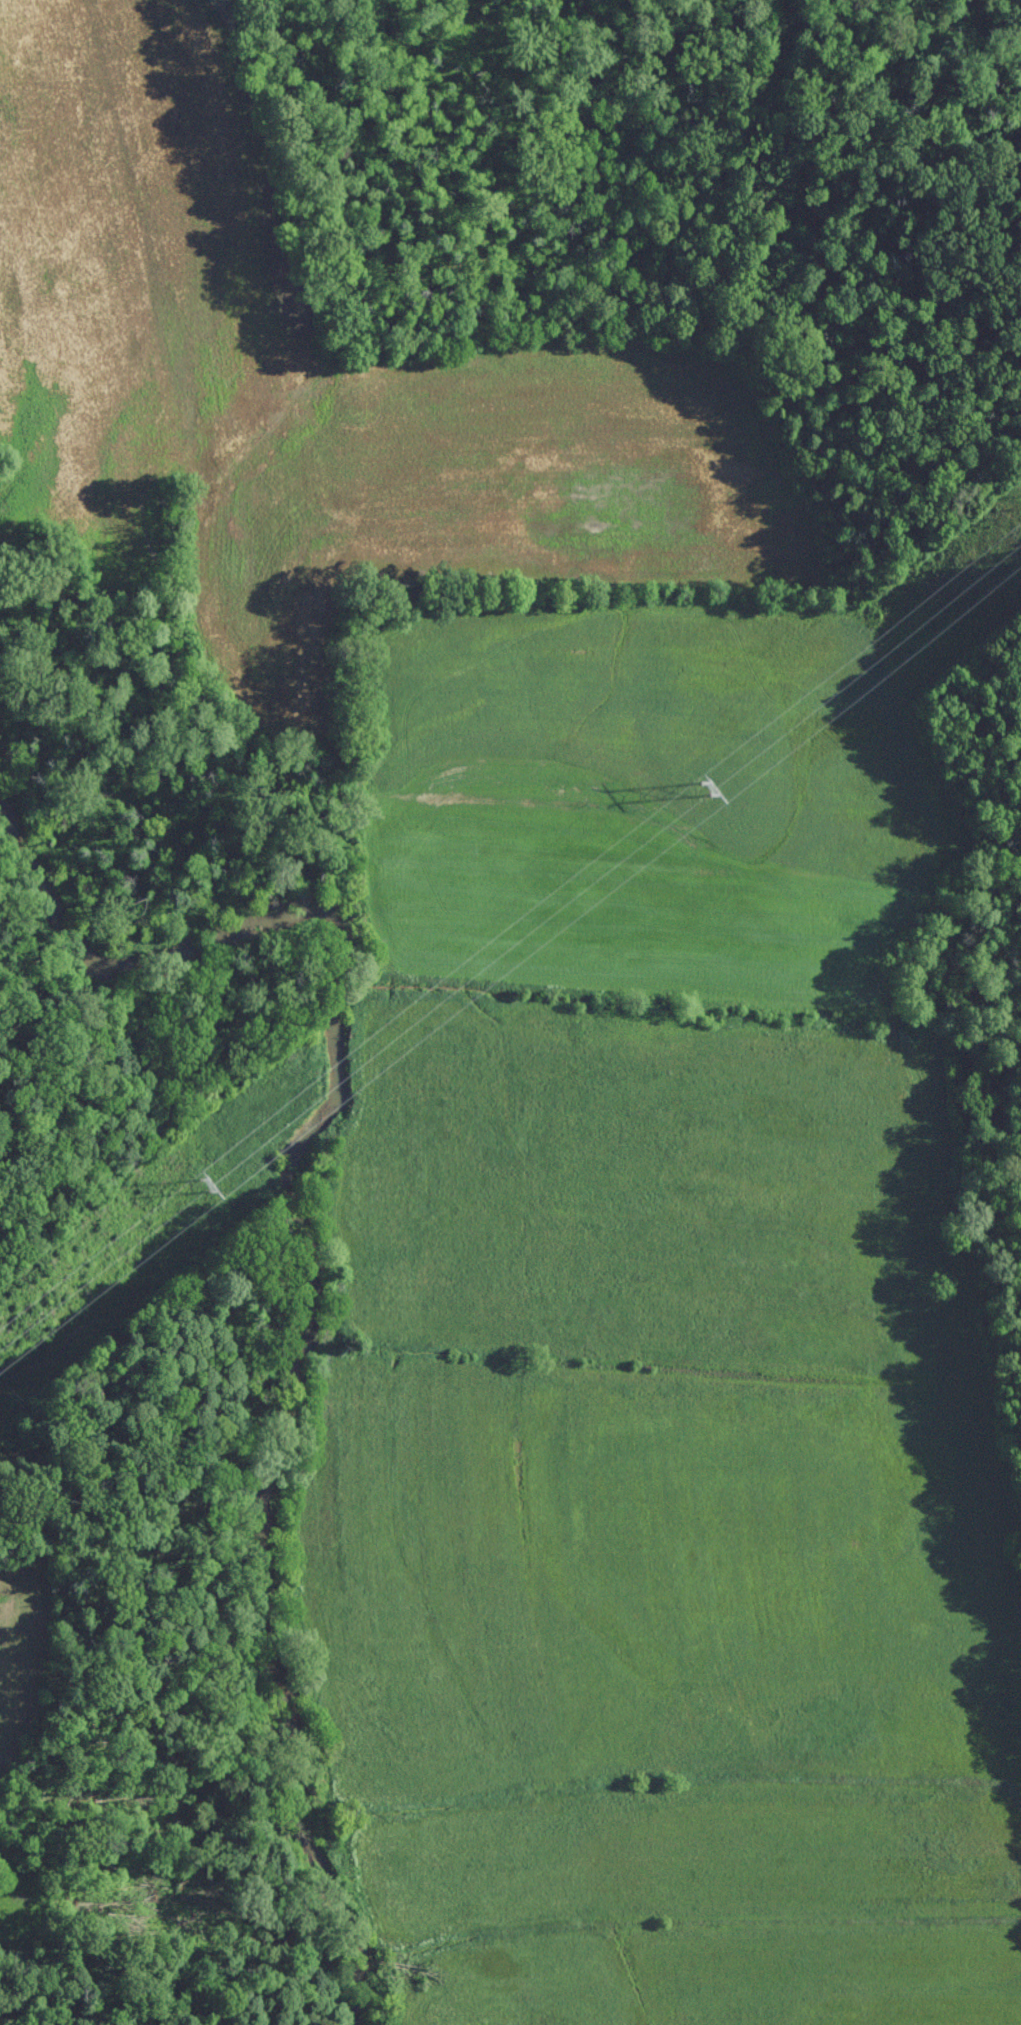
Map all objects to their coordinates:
power tower: (704, 788)
power tower: (204, 1183)

